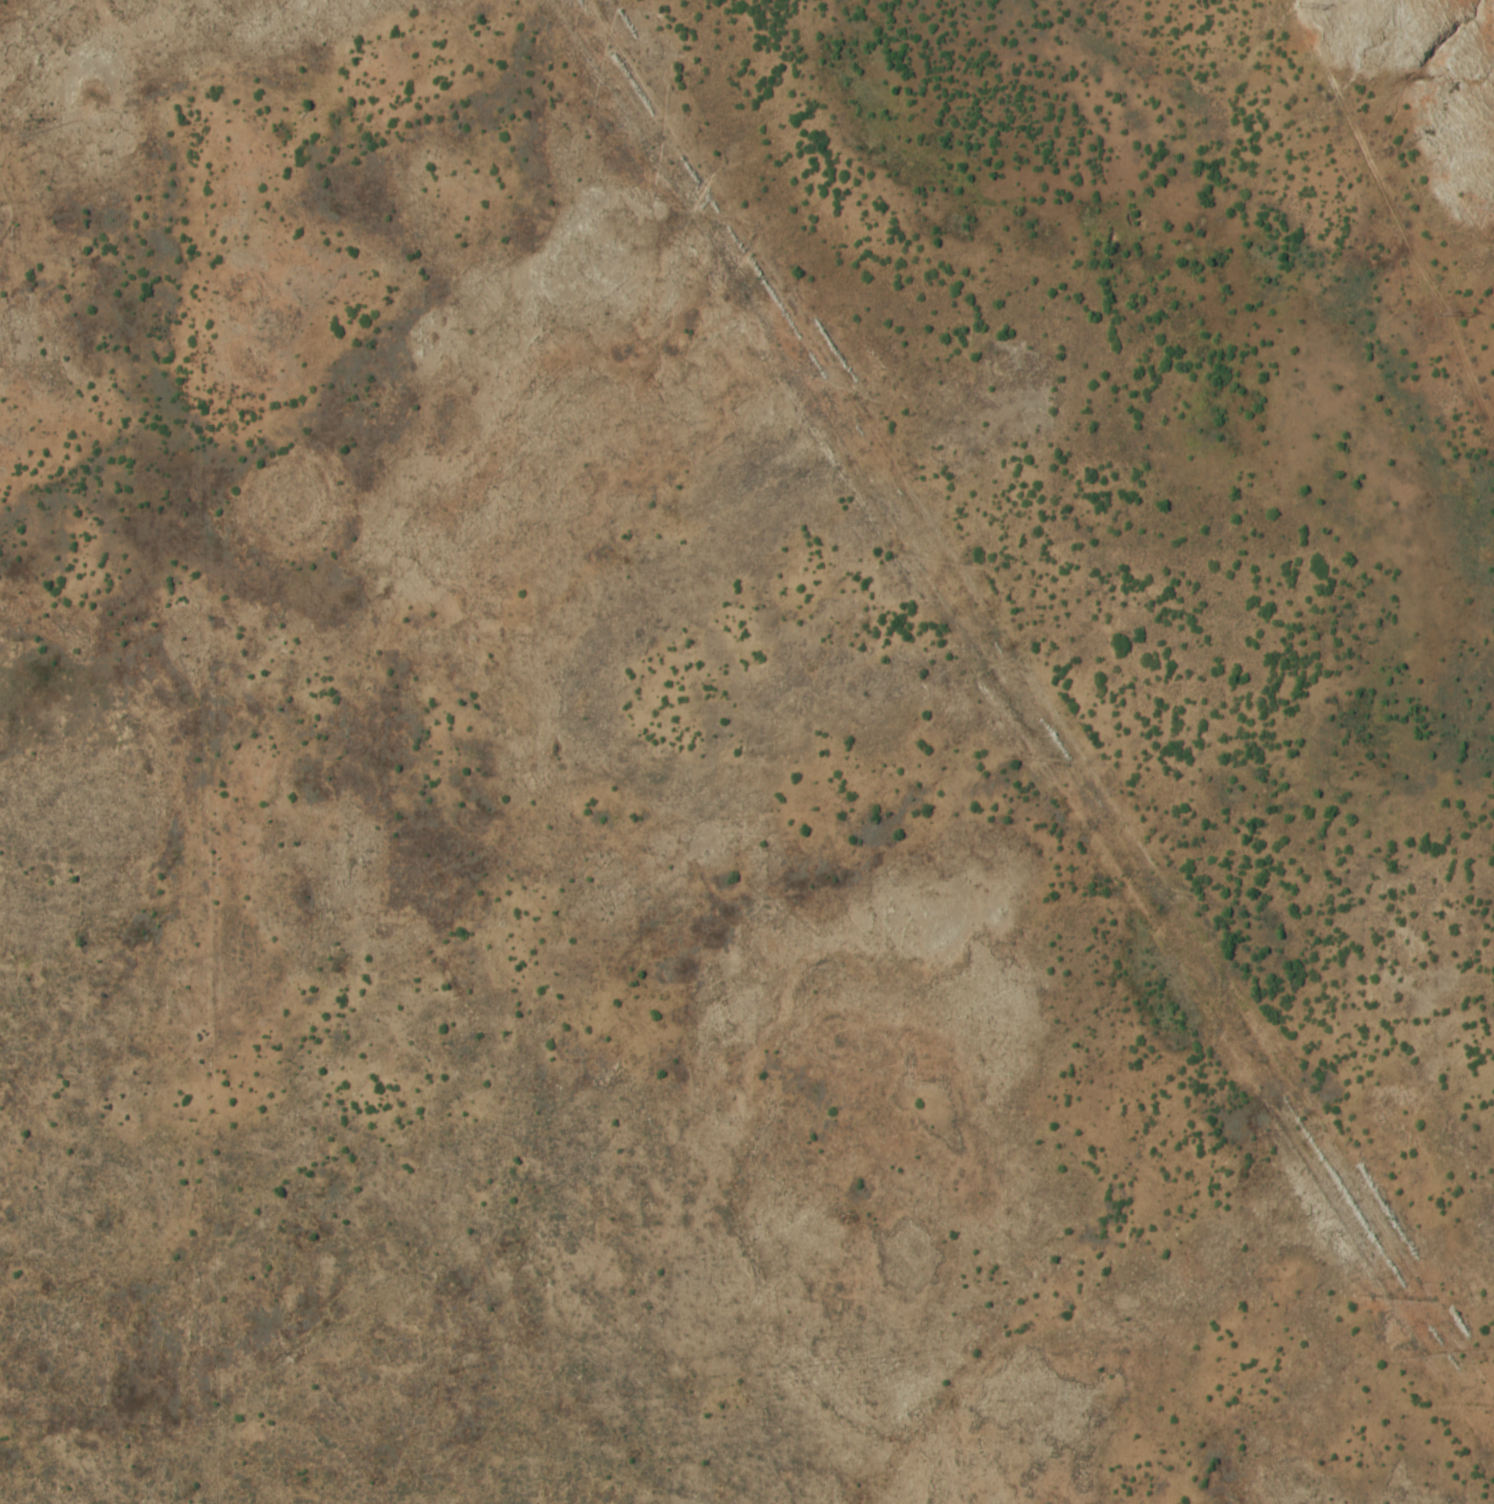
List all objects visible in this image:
power tower: (1294, 2)
power tower: (1438, 310)

